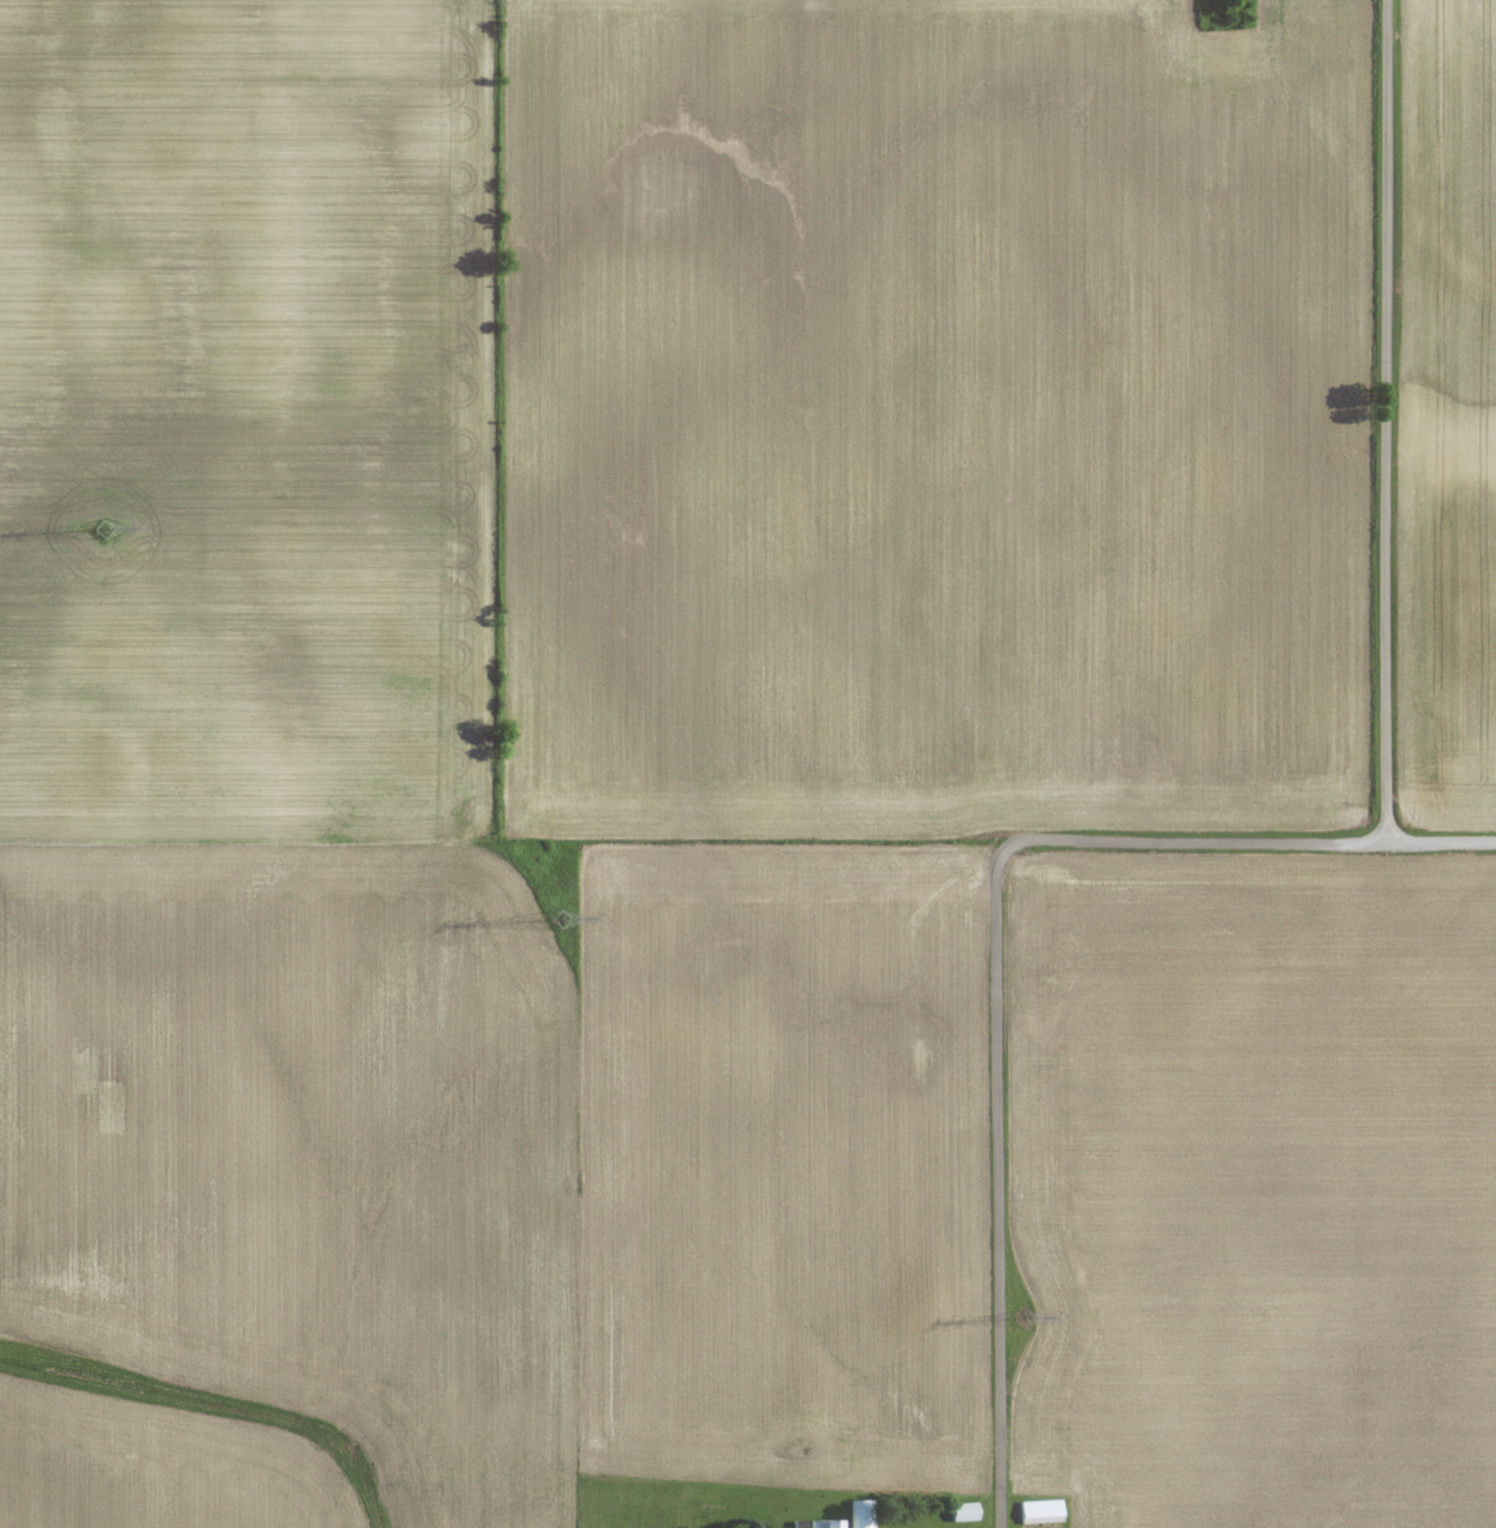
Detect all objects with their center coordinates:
road: (1388, 421)
power tower: (111, 525)
road: (1248, 840)
road: (999, 1190)
power tower: (1030, 1316)
building: (1041, 1511)
building: (964, 1512)
building: (860, 1514)
building: (824, 1524)

